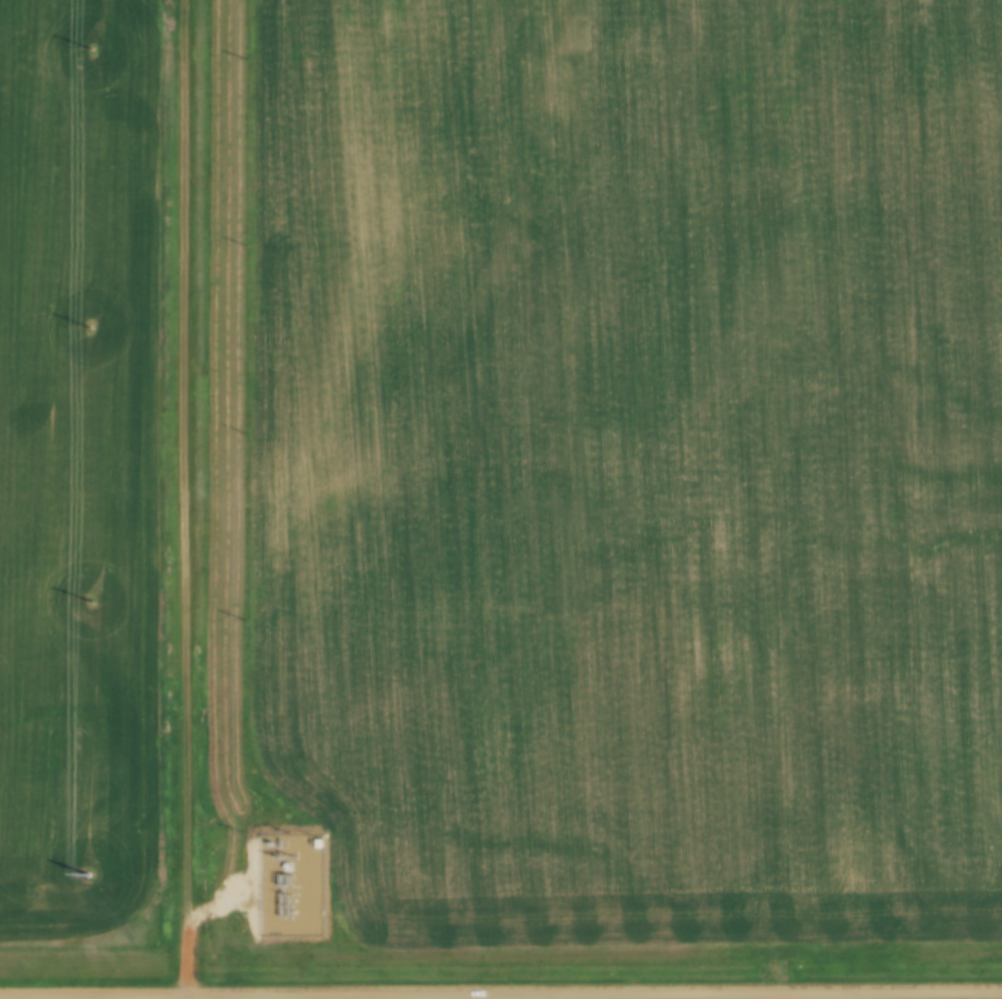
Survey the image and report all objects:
road: (186, 499)
power substation: (286, 881)
road: (517, 996)

